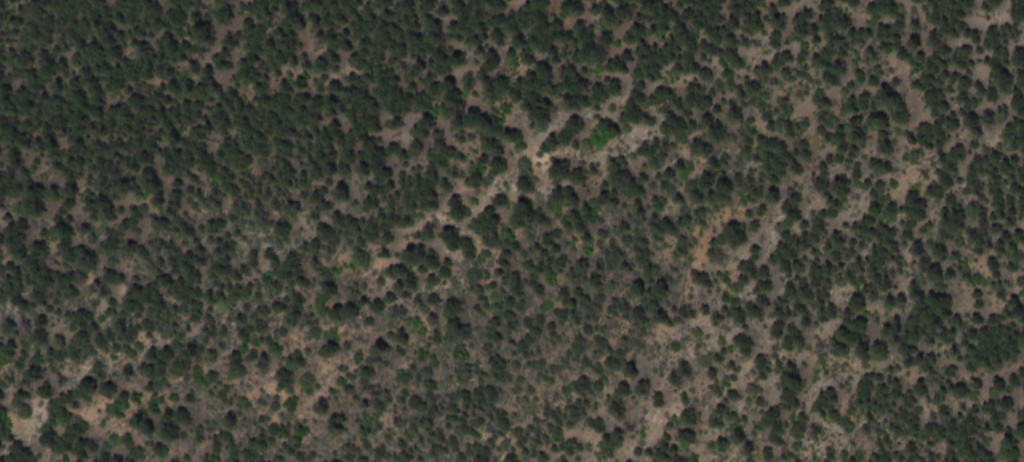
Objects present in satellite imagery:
road: (191, 365)

